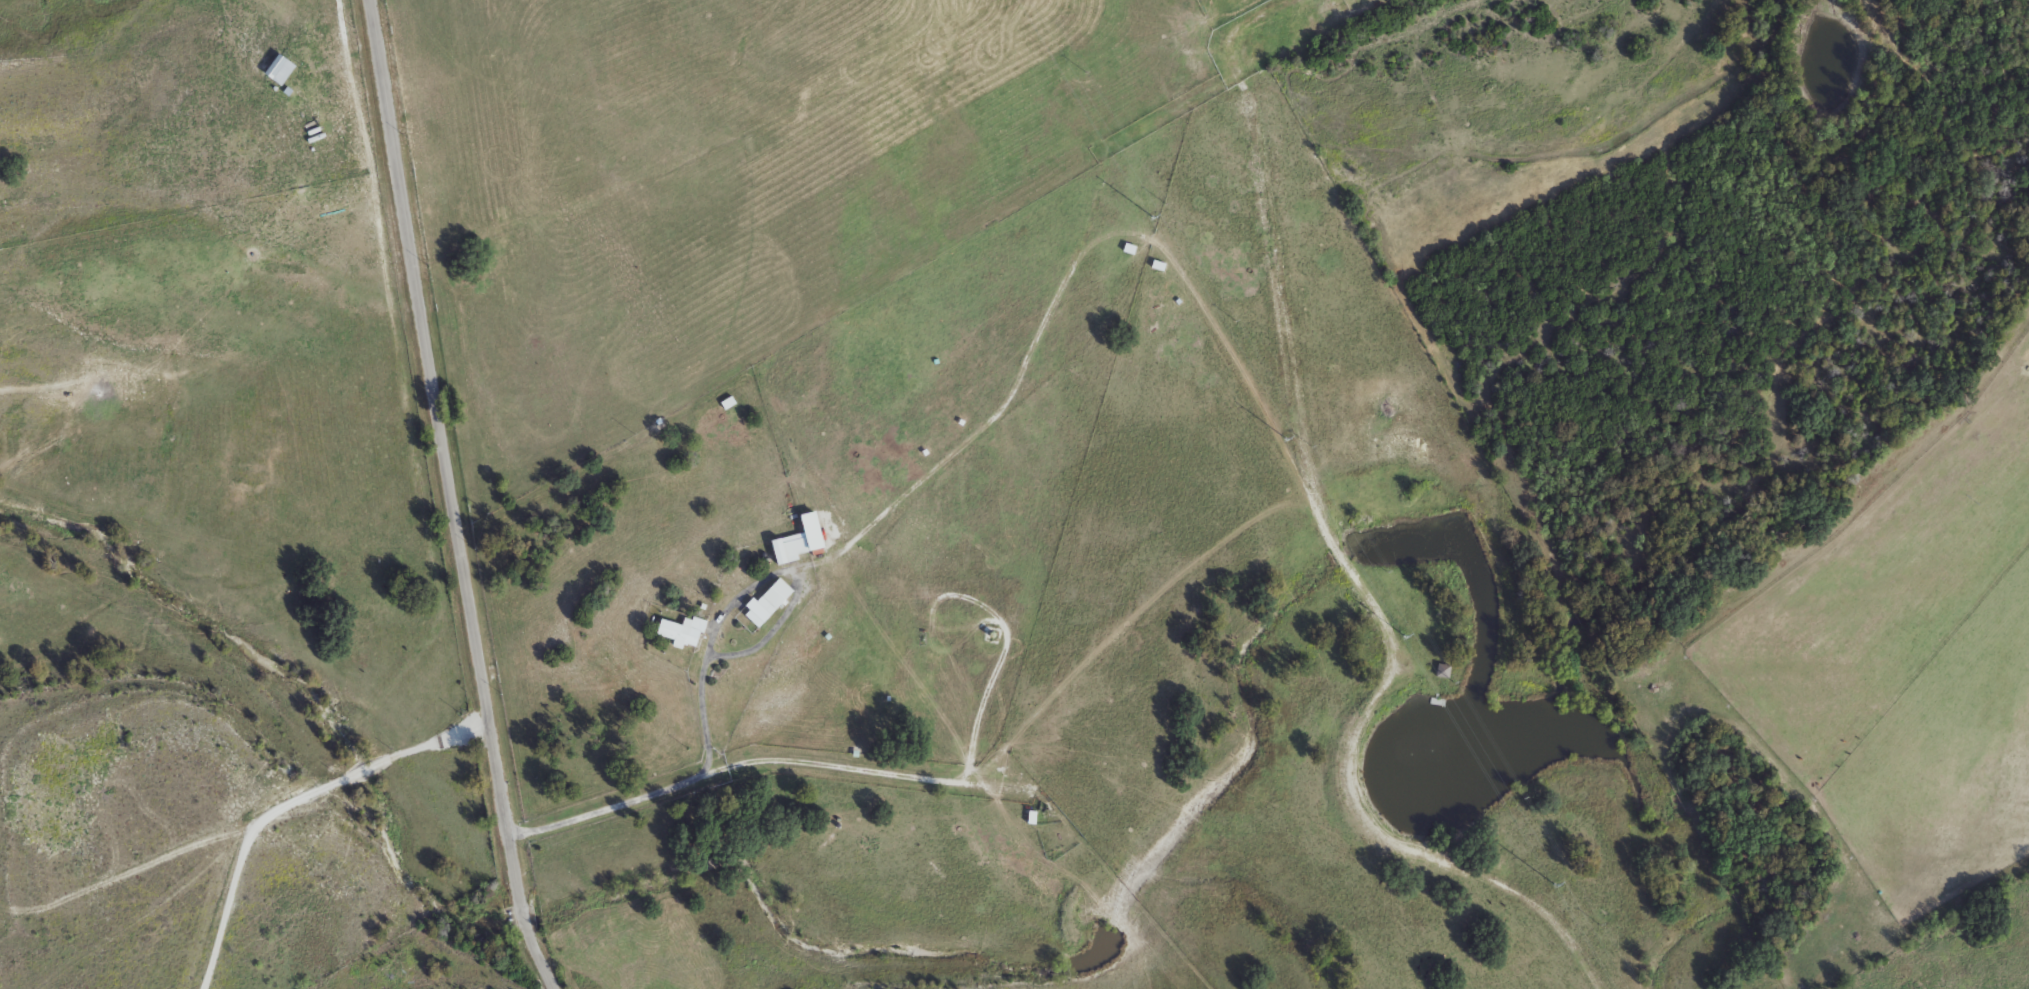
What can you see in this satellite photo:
road: (345, 42)
building: (283, 72)
road: (450, 497)
building: (792, 550)
road: (1339, 556)
road: (744, 593)
road: (947, 595)
building: (772, 605)
building: (686, 634)
road: (814, 758)
road: (292, 802)

